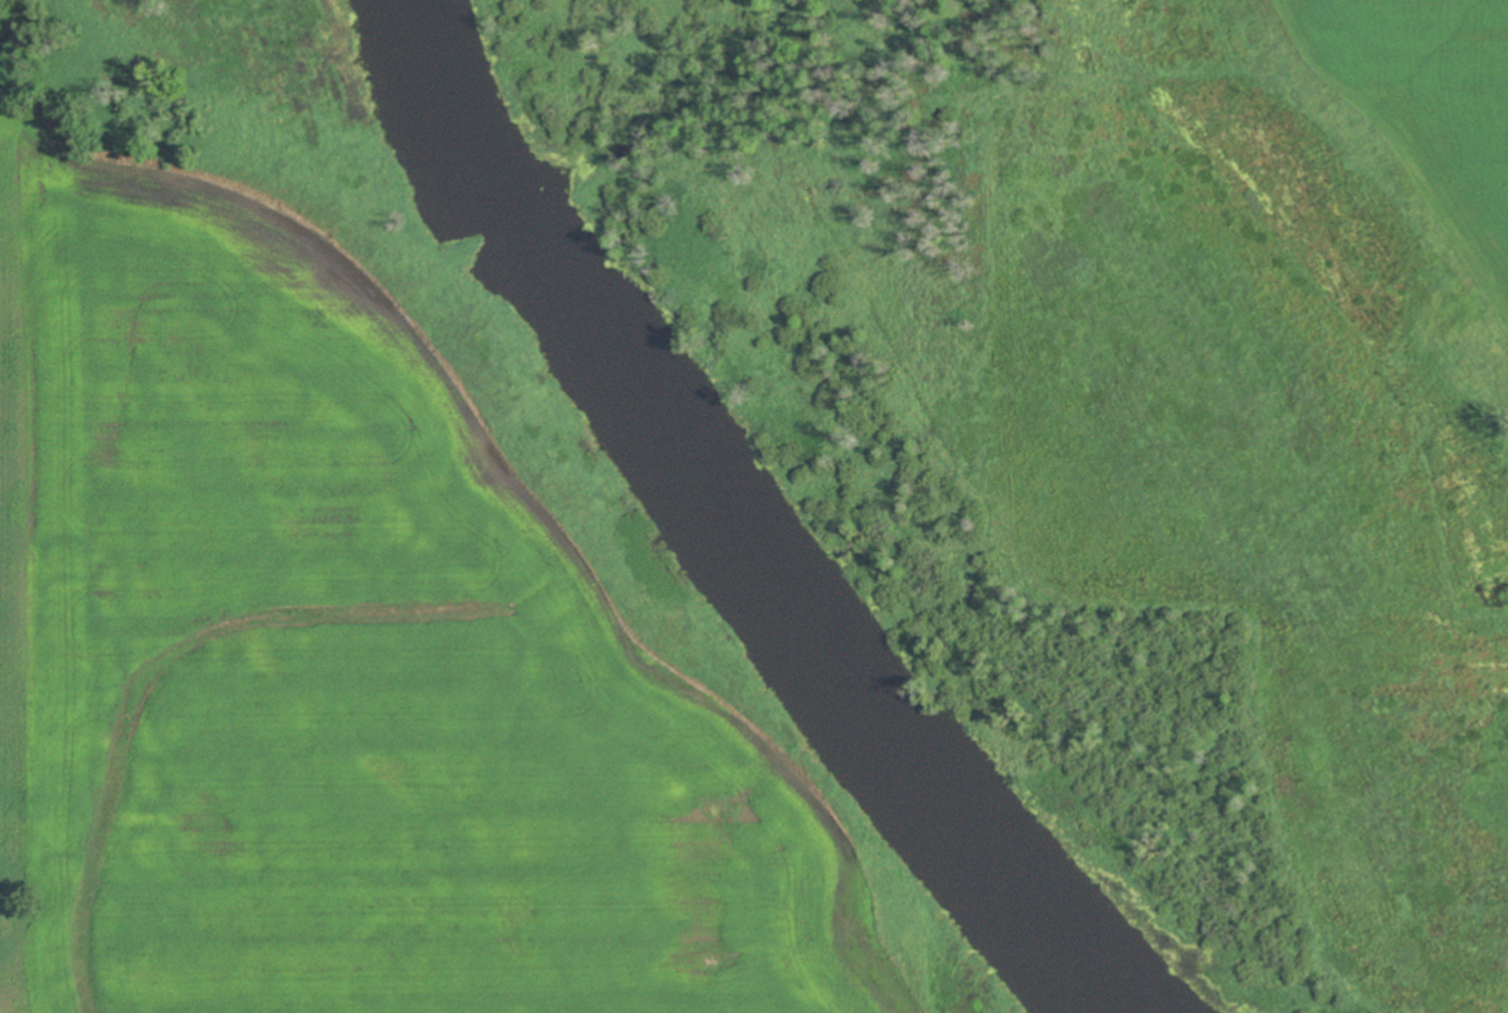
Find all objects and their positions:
river: (724, 527)

